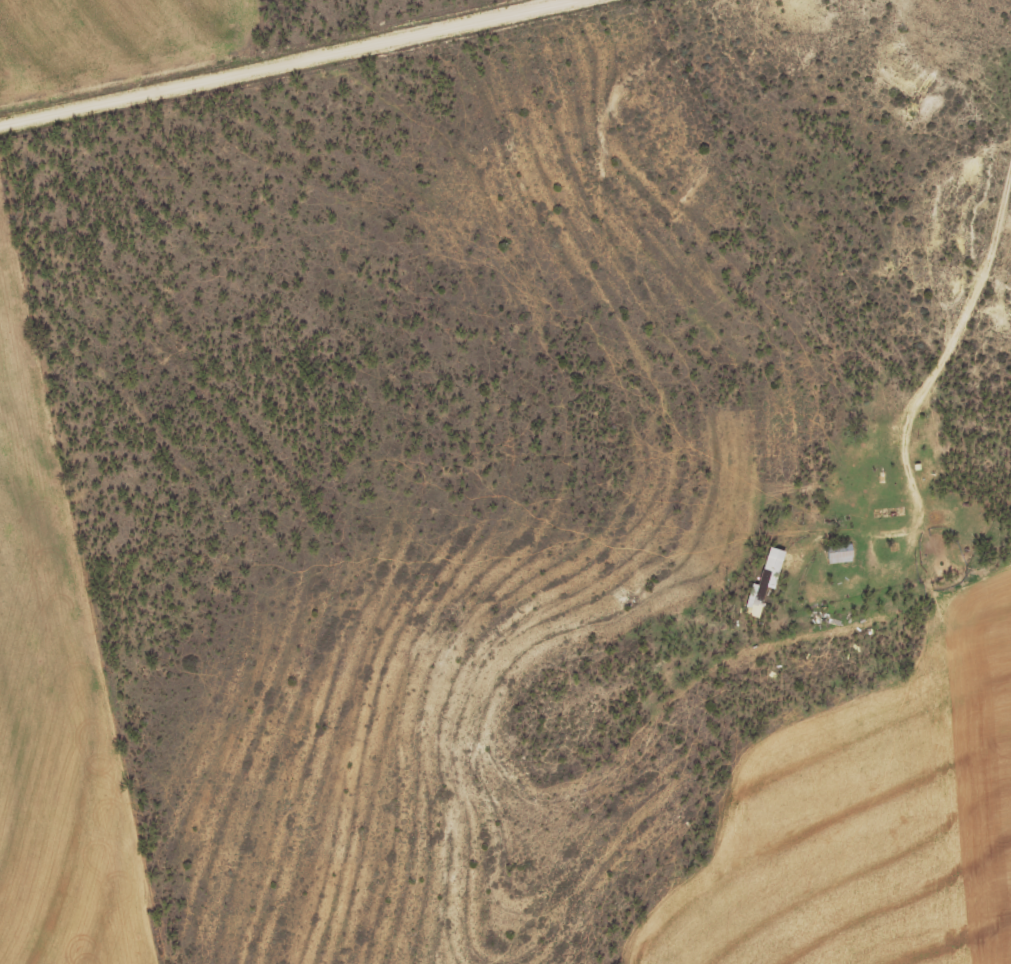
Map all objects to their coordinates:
road: (293, 64)
road: (948, 304)

